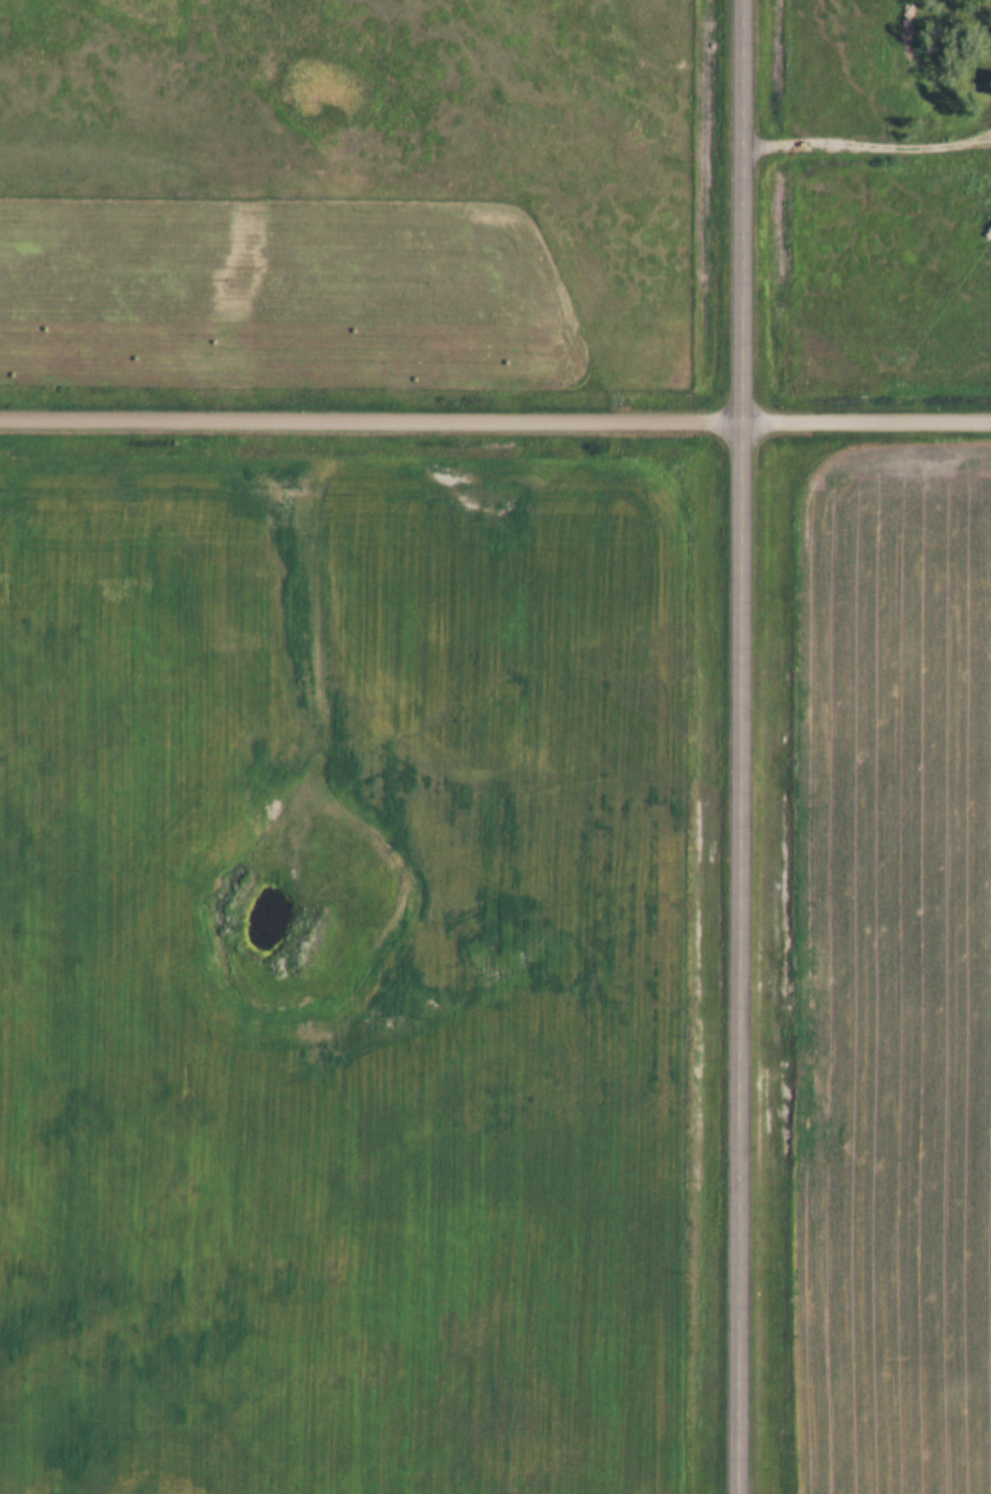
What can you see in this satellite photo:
road: (867, 142)
road: (495, 418)
road: (740, 746)

